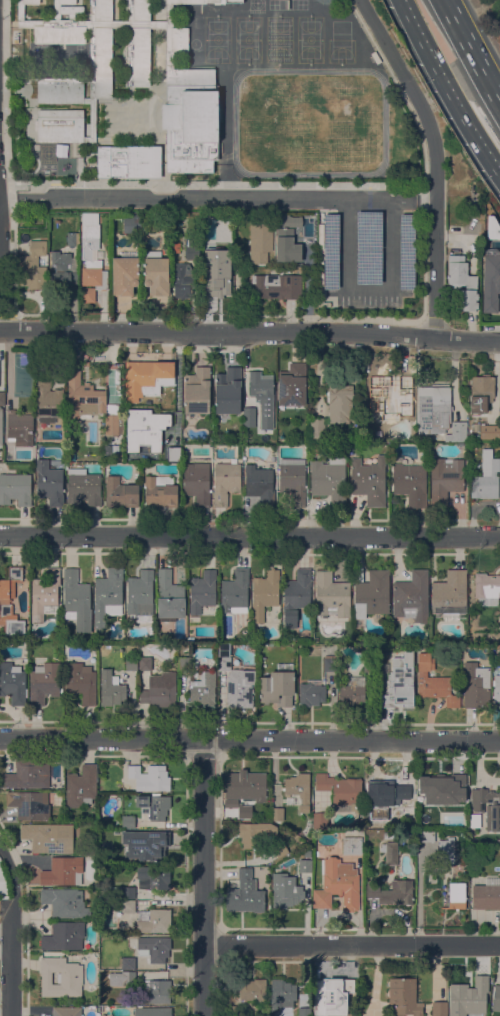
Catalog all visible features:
building: (28, 1)
building: (65, 1)
building: (202, 1)
building: (138, 9)
building: (57, 10)
building: (100, 10)
building: (23, 18)
road: (411, 23)
building: (58, 31)
building: (130, 32)
building: (179, 39)
road: (472, 49)
building: (138, 57)
building: (100, 62)
building: (60, 90)
road: (5, 99)
road: (454, 102)
building: (91, 119)
building: (190, 119)
building: (60, 125)
road: (225, 135)
building: (63, 149)
road: (435, 160)
road: (493, 160)
building: (129, 161)
road: (491, 171)
road: (216, 181)
road: (217, 197)
road: (423, 201)
building: (487, 214)
building: (206, 219)
building: (288, 221)
building: (131, 222)
building: (491, 230)
building: (72, 238)
building: (260, 242)
building: (286, 245)
building: (173, 246)
building: (368, 246)
building: (228, 247)
building: (192, 248)
building: (331, 250)
building: (406, 250)
building: (91, 252)
building: (33, 266)
building: (63, 269)
building: (491, 272)
building: (156, 273)
building: (124, 275)
building: (182, 280)
building: (217, 280)
building: (462, 282)
building: (275, 286)
road: (368, 288)
building: (88, 294)
road: (250, 331)
building: (144, 376)
building: (292, 384)
building: (482, 387)
building: (197, 390)
building: (227, 390)
building: (385, 395)
building: (262, 396)
building: (83, 397)
building: (2, 398)
building: (48, 399)
building: (340, 399)
building: (439, 413)
building: (249, 416)
building: (113, 420)
building: (18, 423)
building: (1, 426)
building: (144, 428)
building: (318, 429)
building: (489, 431)
building: (359, 439)
building: (473, 444)
building: (486, 477)
building: (445, 479)
building: (293, 480)
building: (329, 480)
building: (369, 480)
building: (197, 482)
building: (225, 482)
building: (49, 483)
building: (411, 483)
building: (259, 484)
building: (83, 487)
building: (15, 488)
building: (160, 491)
building: (120, 492)
road: (250, 534)
building: (487, 588)
building: (235, 592)
building: (45, 593)
building: (203, 593)
building: (265, 593)
building: (450, 593)
building: (332, 594)
building: (141, 595)
building: (108, 596)
building: (169, 596)
building: (296, 596)
building: (371, 596)
building: (412, 596)
building: (5, 599)
building: (76, 600)
building: (224, 648)
building: (369, 662)
building: (131, 663)
building: (145, 663)
building: (224, 663)
building: (329, 663)
building: (400, 681)
building: (433, 681)
building: (13, 682)
building: (44, 682)
building: (81, 682)
building: (476, 684)
building: (277, 686)
building: (111, 687)
building: (203, 688)
building: (240, 688)
building: (496, 688)
building: (160, 690)
building: (351, 691)
building: (311, 693)
road: (101, 737)
road: (351, 738)
building: (29, 774)
building: (149, 777)
building: (245, 785)
building: (81, 786)
building: (297, 790)
building: (341, 791)
building: (440, 793)
building: (384, 798)
building: (29, 804)
building: (153, 805)
building: (487, 806)
building: (244, 811)
building: (276, 813)
building: (68, 814)
building: (475, 820)
building: (128, 821)
building: (320, 821)
building: (406, 832)
building: (254, 833)
building: (389, 835)
building: (424, 835)
building: (49, 837)
building: (472, 839)
building: (144, 844)
building: (353, 845)
building: (279, 849)
building: (446, 850)
building: (389, 852)
building: (305, 865)
building: (63, 871)
building: (154, 877)
road: (203, 877)
building: (338, 885)
building: (285, 890)
building: (121, 892)
building: (392, 892)
building: (245, 893)
building: (486, 894)
building: (456, 895)
building: (65, 902)
building: (128, 906)
building: (154, 920)
road: (10, 931)
building: (64, 936)
road: (351, 943)
building: (152, 947)
building: (128, 963)
building: (61, 977)
building: (122, 978)
building: (252, 989)
building: (158, 990)
building: (281, 993)
building: (330, 994)
building: (468, 995)
building: (404, 996)
building: (496, 998)
building: (439, 1008)
building: (237, 1010)
building: (67, 1011)
building: (152, 1011)
building: (304, 1011)

